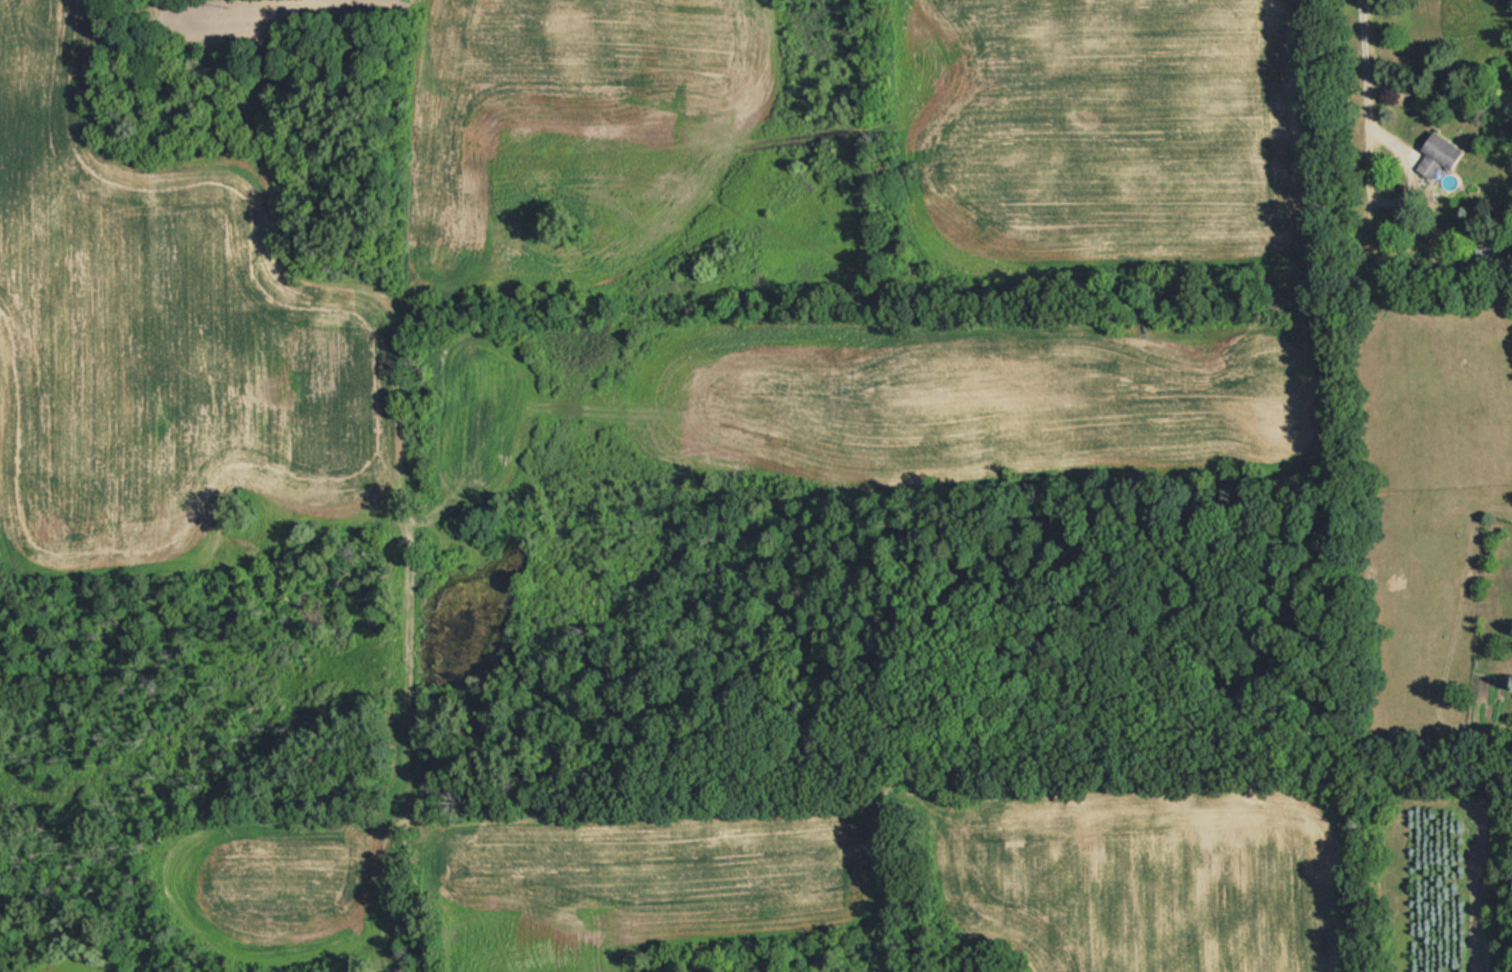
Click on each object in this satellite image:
road: (1367, 96)
building: (1434, 153)
building: (1488, 255)

